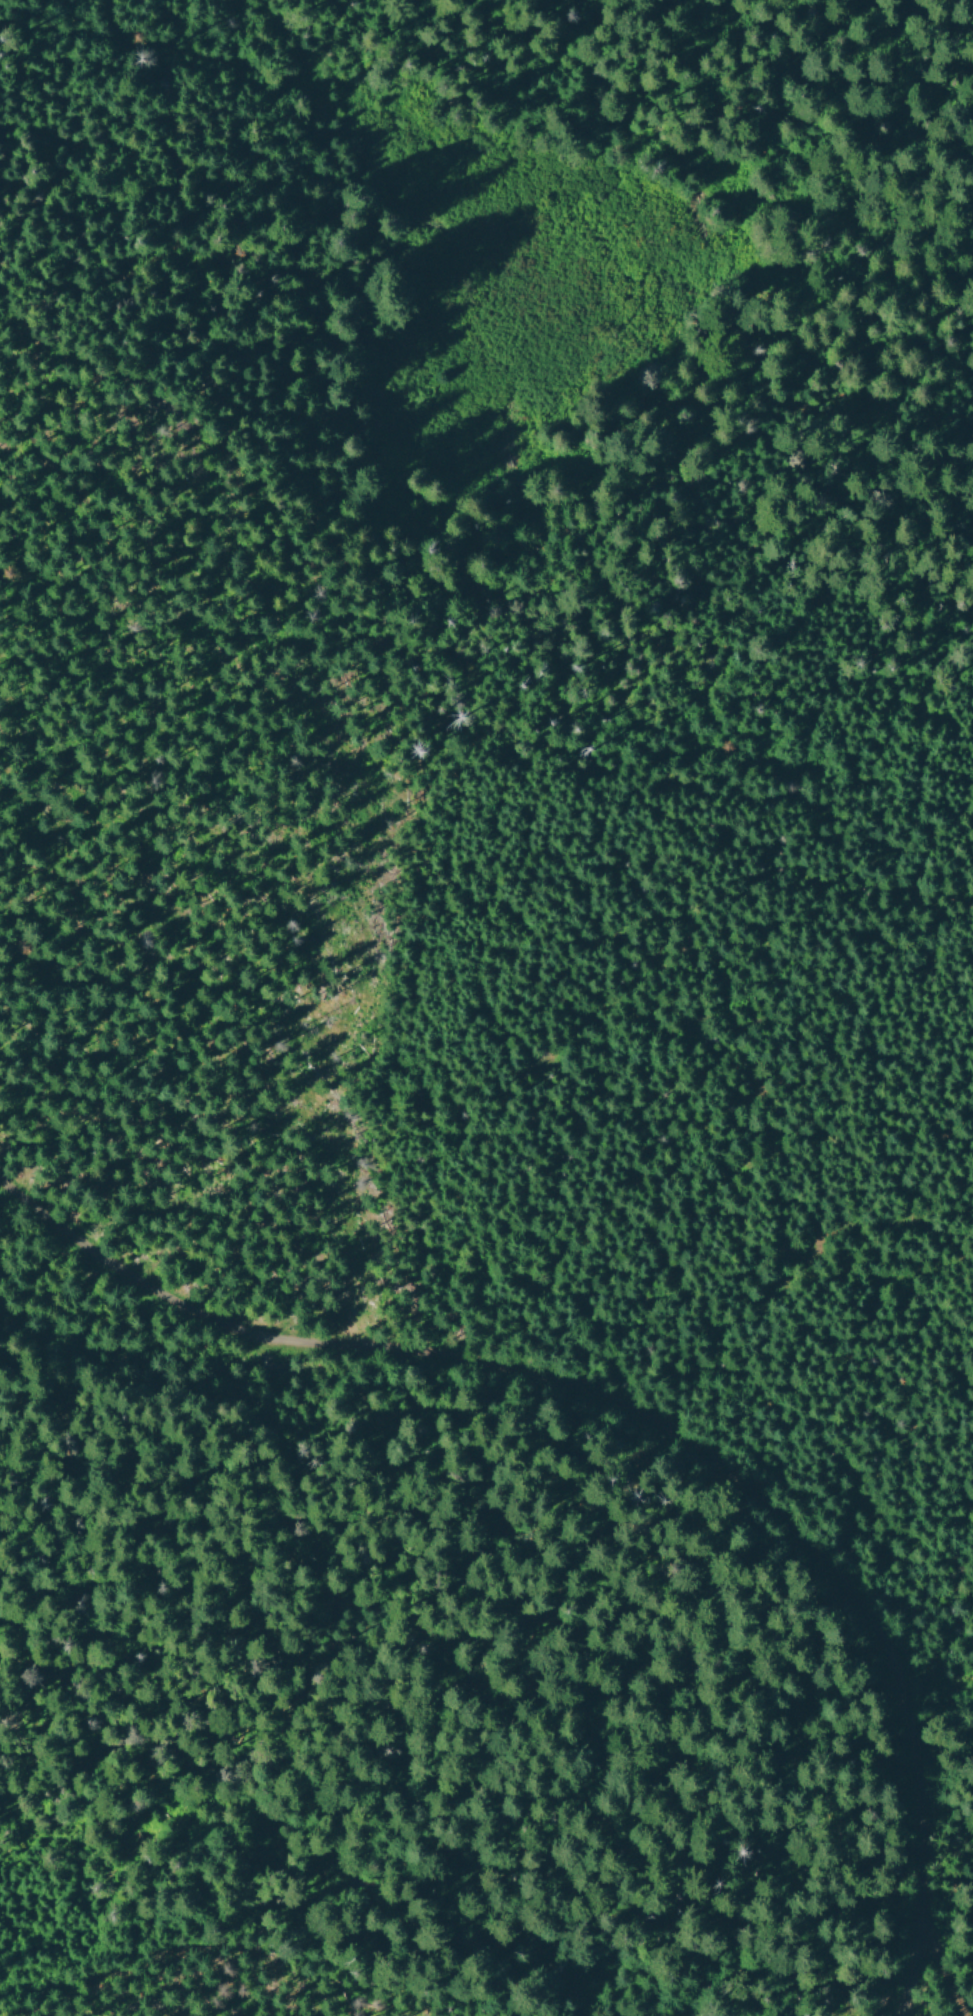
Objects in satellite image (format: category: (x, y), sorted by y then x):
road: (651, 1421)
road: (916, 1957)

